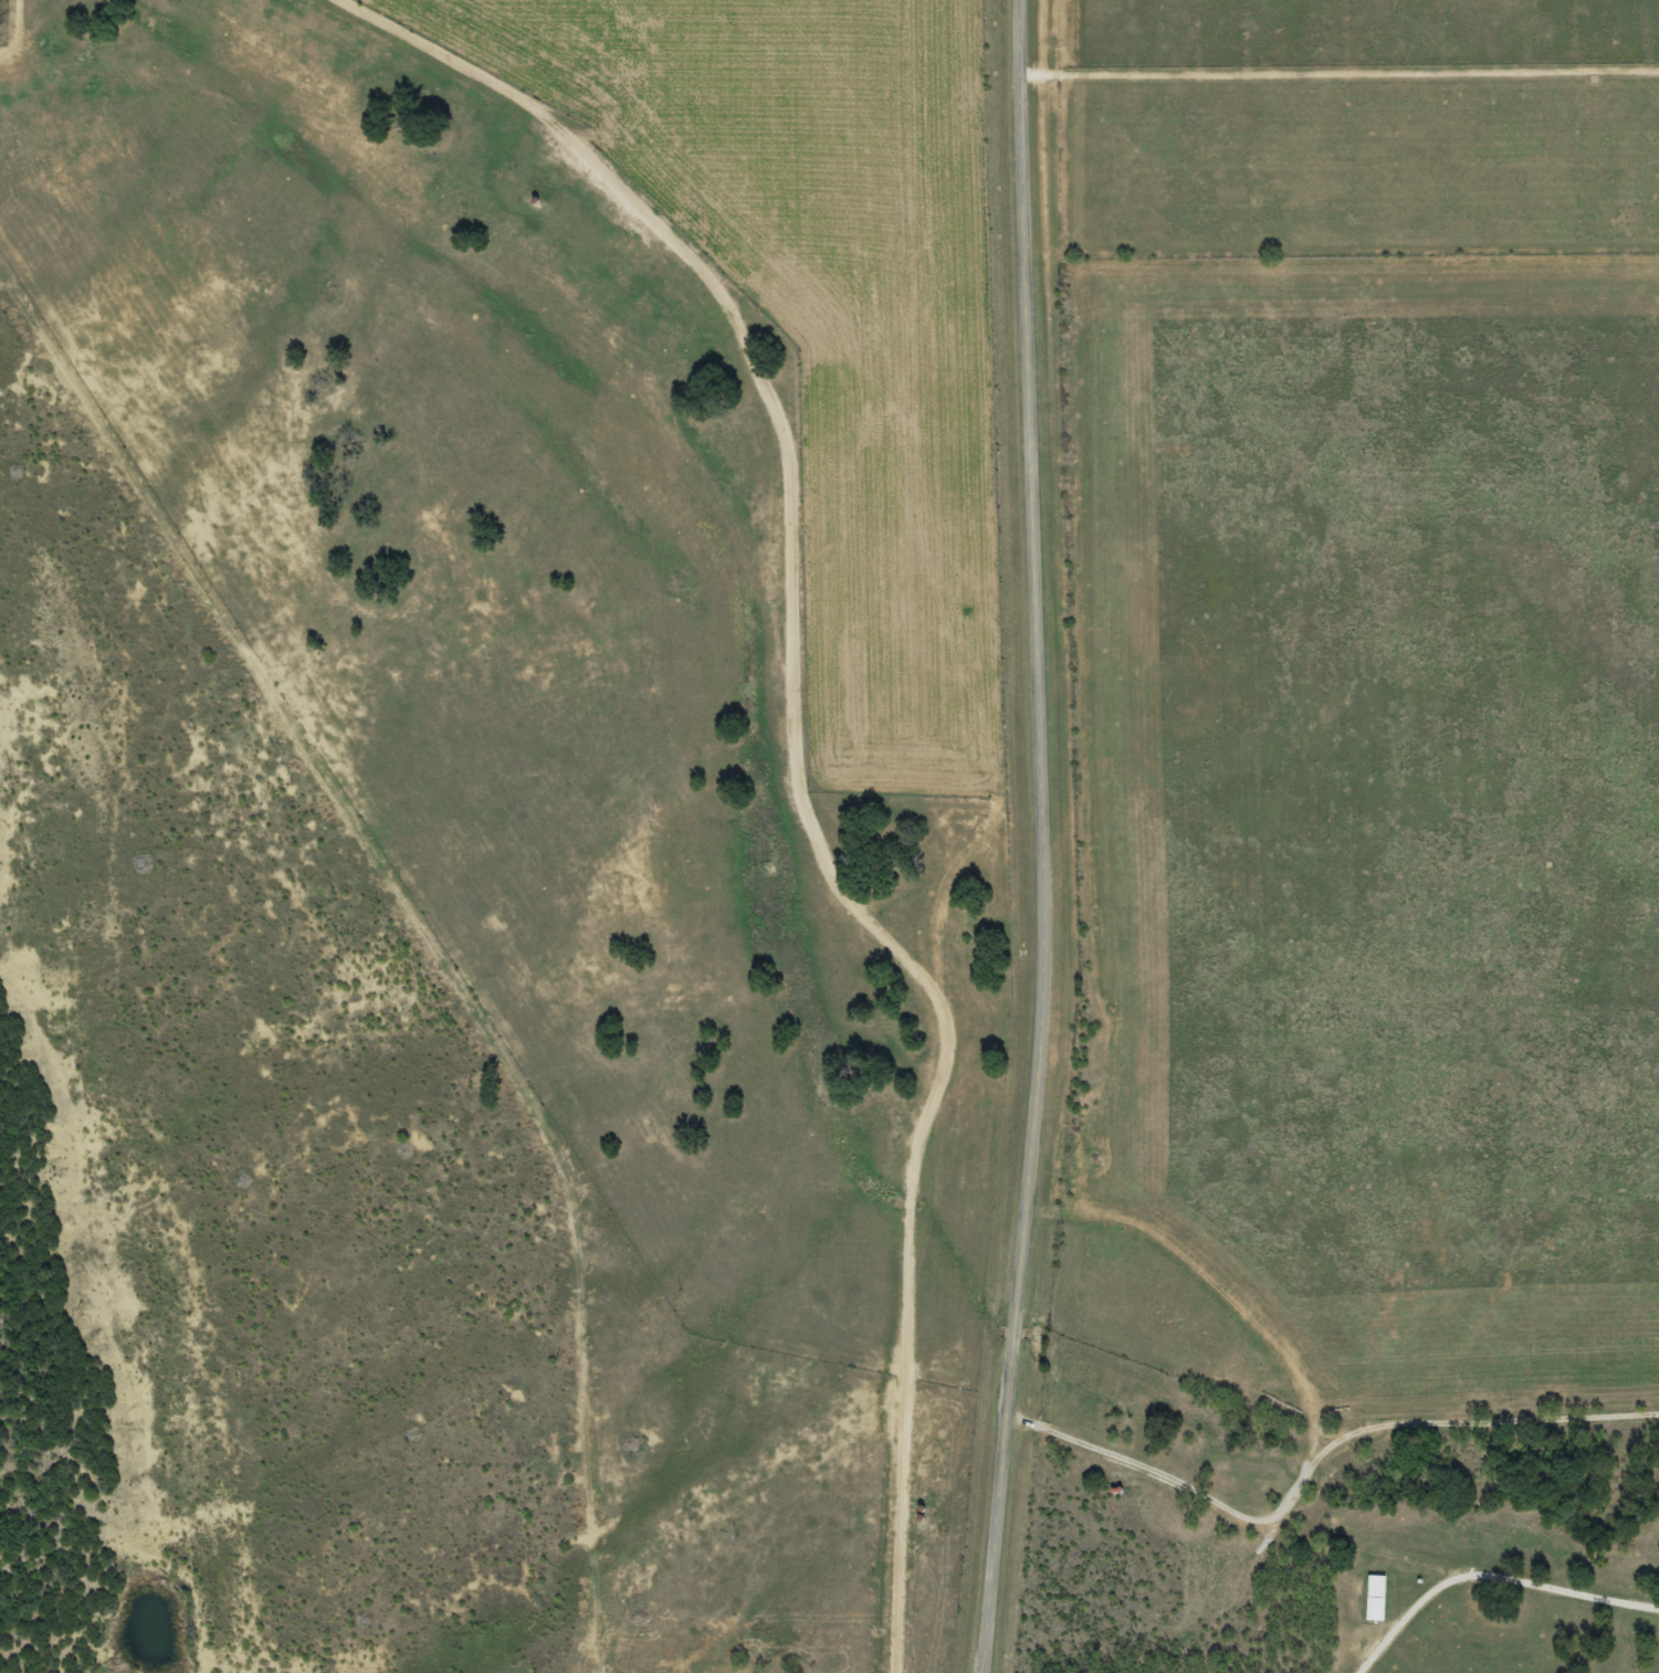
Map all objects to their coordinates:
road: (11, 12)
road: (756, 765)
road: (547, 801)
road: (1043, 838)
road: (1411, 1231)
road: (1289, 1469)
road: (1102, 1535)
building: (1376, 1599)

